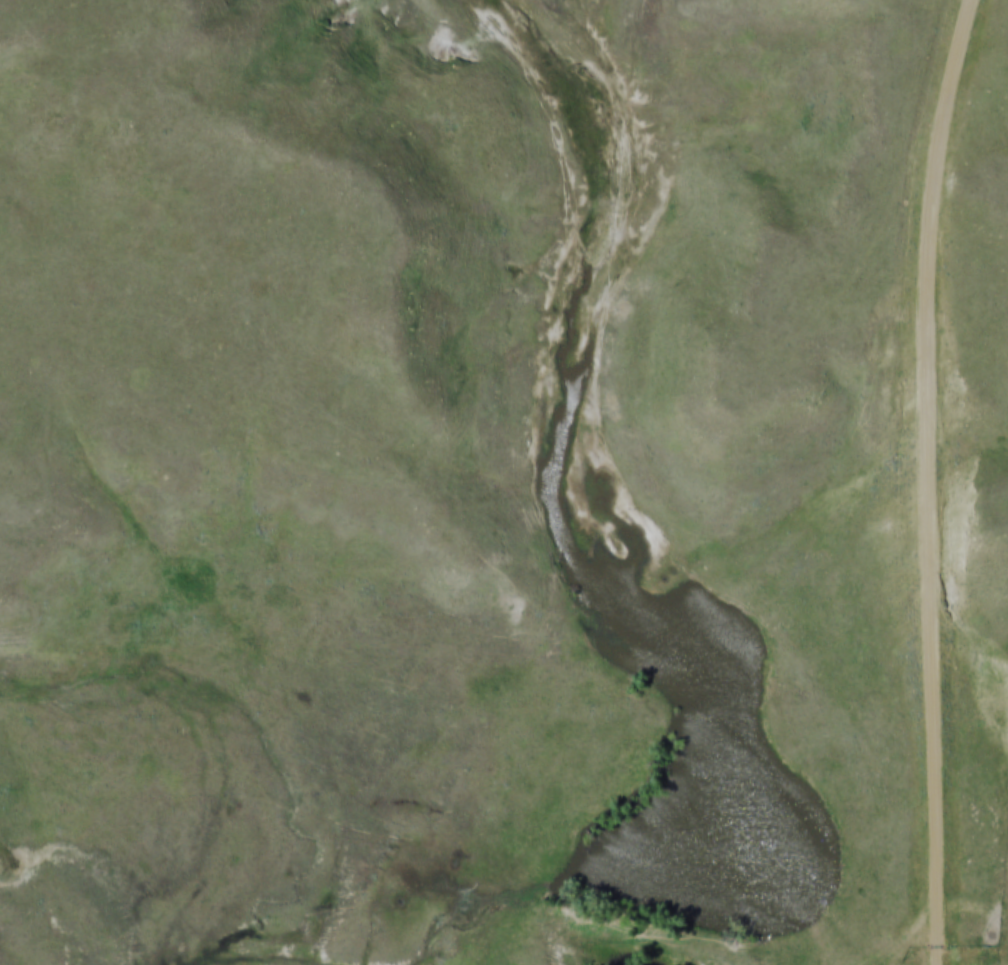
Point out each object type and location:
road: (928, 480)
road: (974, 902)

